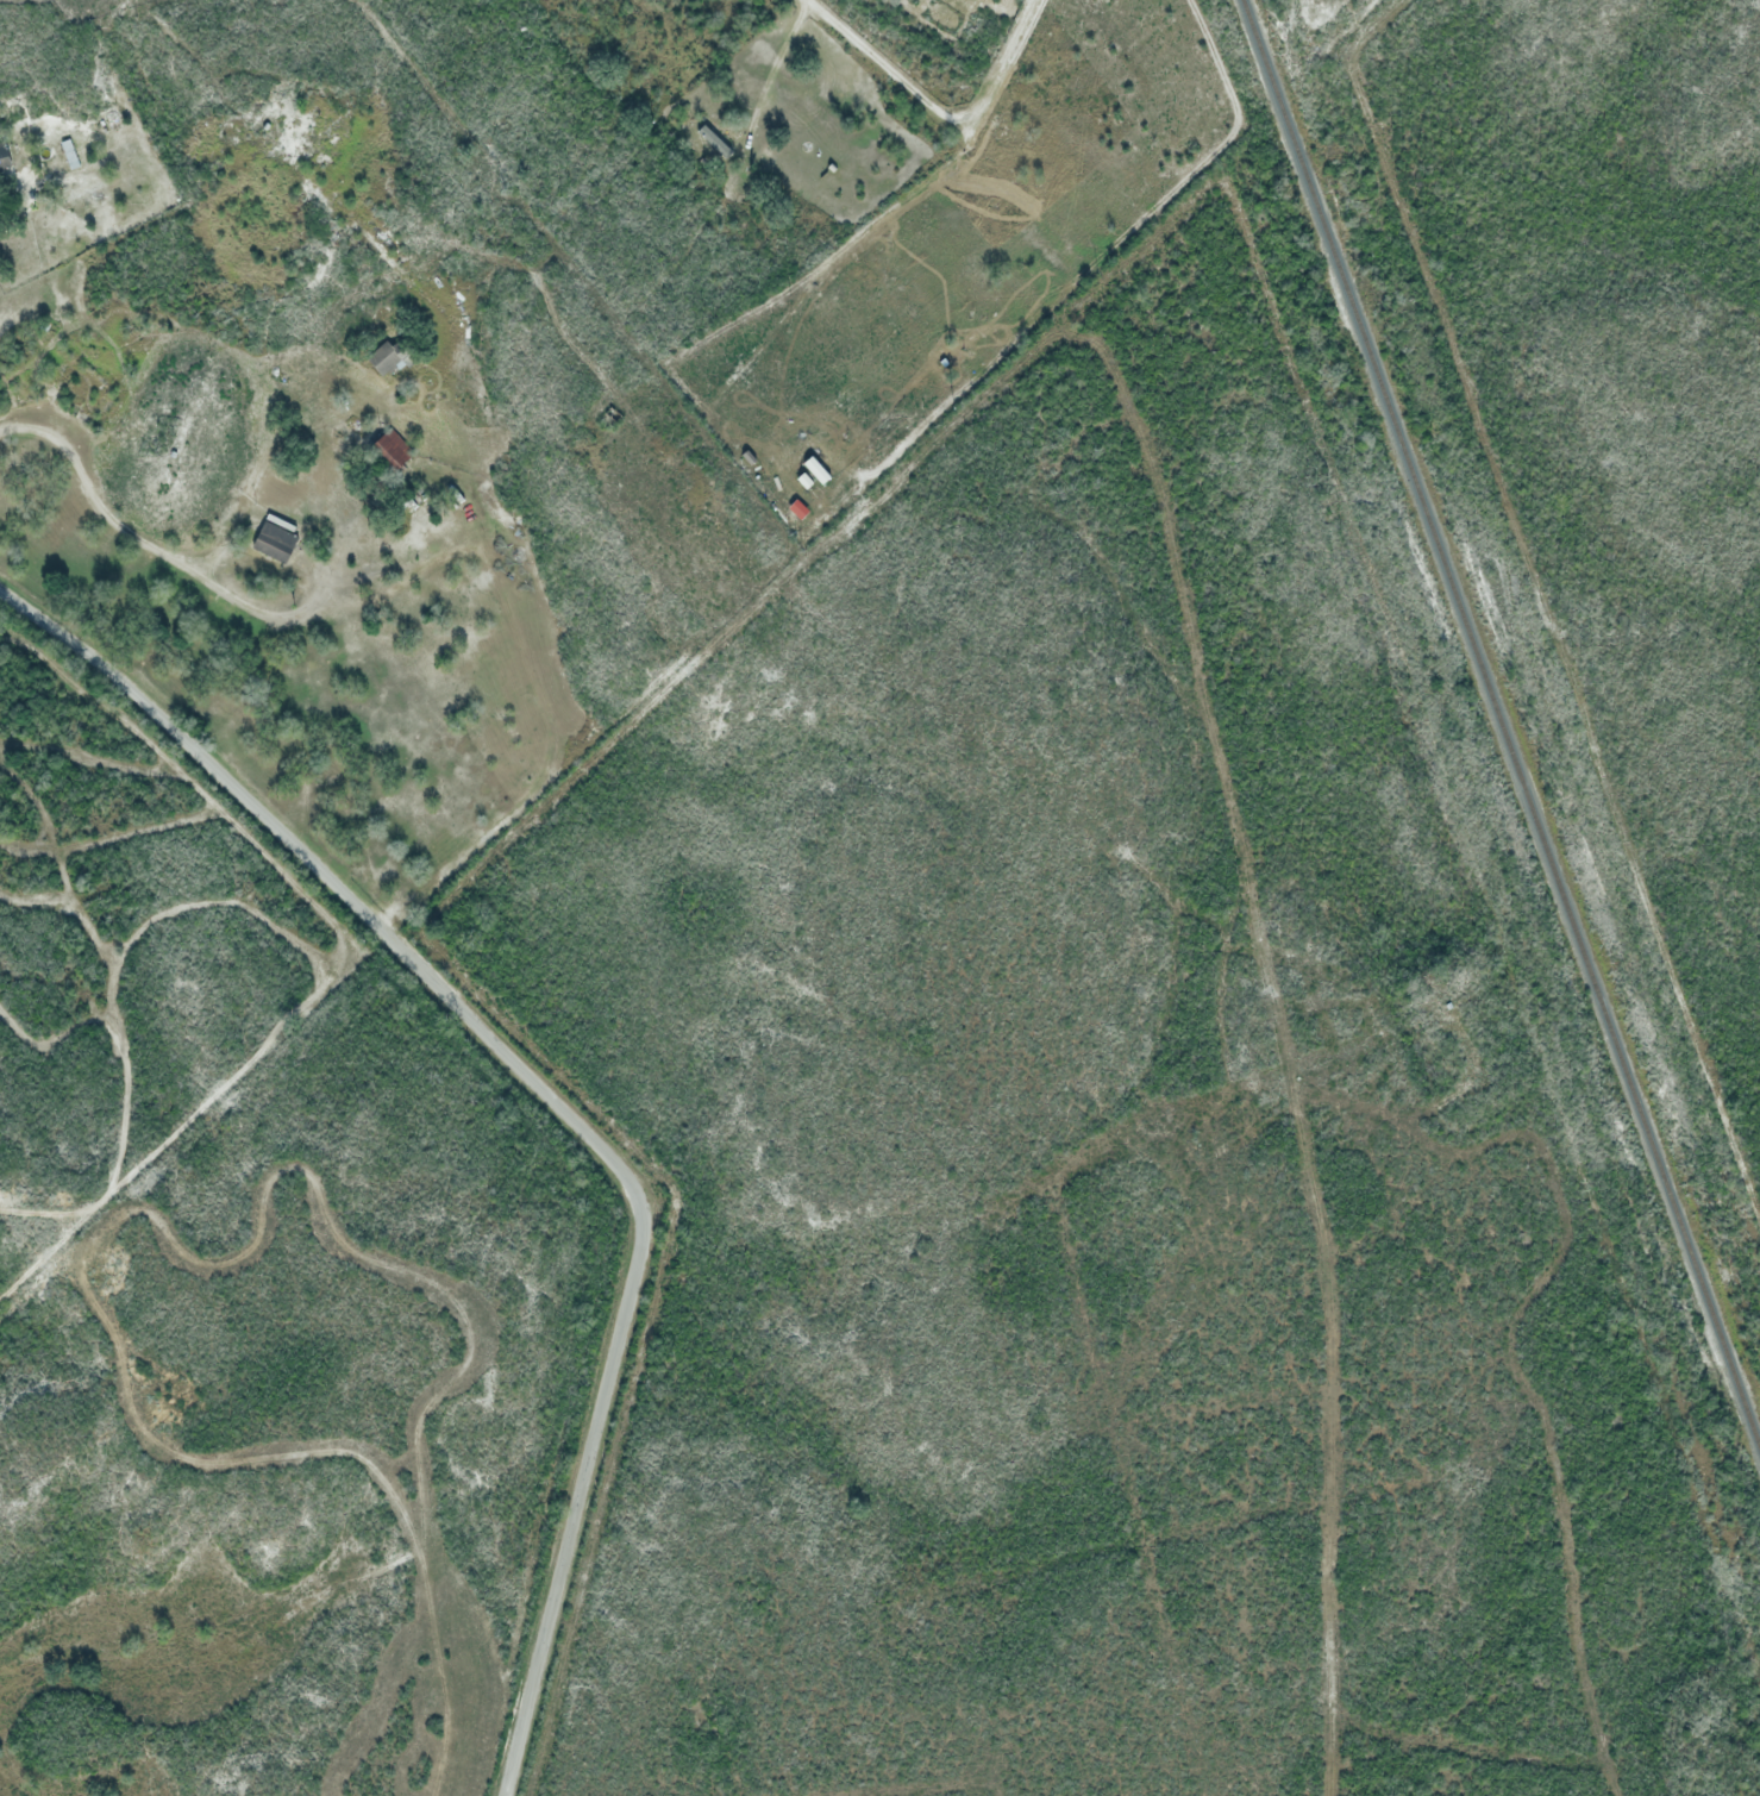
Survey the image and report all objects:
road: (933, 113)
building: (713, 142)
building: (69, 154)
building: (4, 156)
building: (381, 359)
building: (395, 449)
building: (747, 456)
building: (815, 469)
building: (803, 480)
building: (833, 494)
building: (274, 542)
railway: (1502, 721)
road: (551, 1097)

